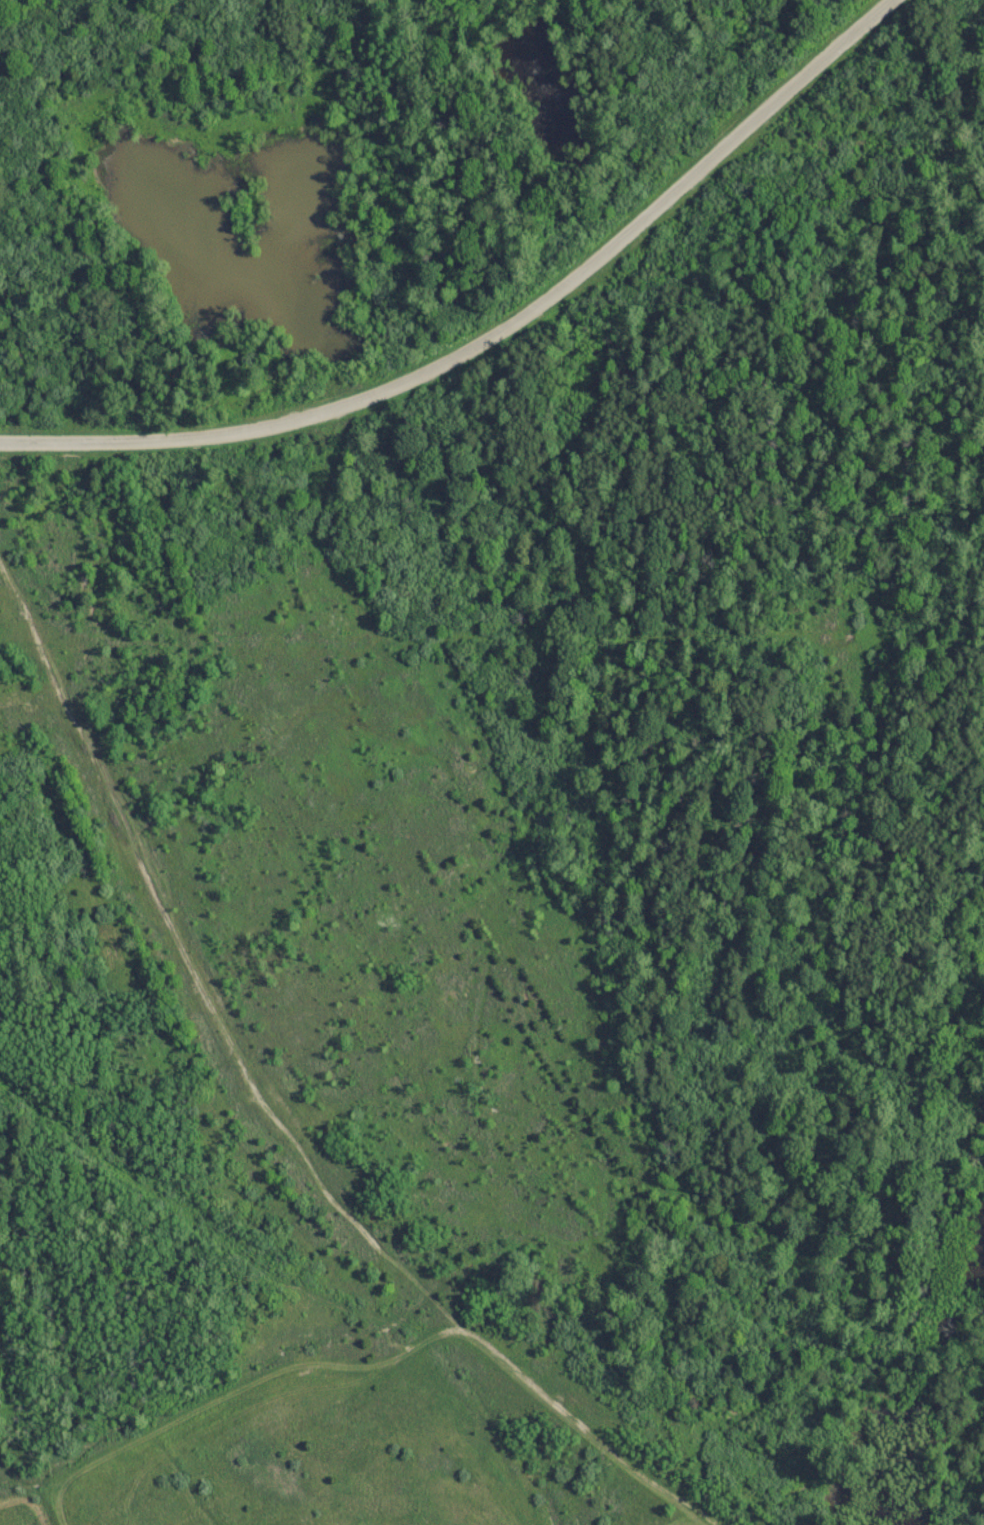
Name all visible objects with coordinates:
road: (525, 331)
road: (10, 448)

